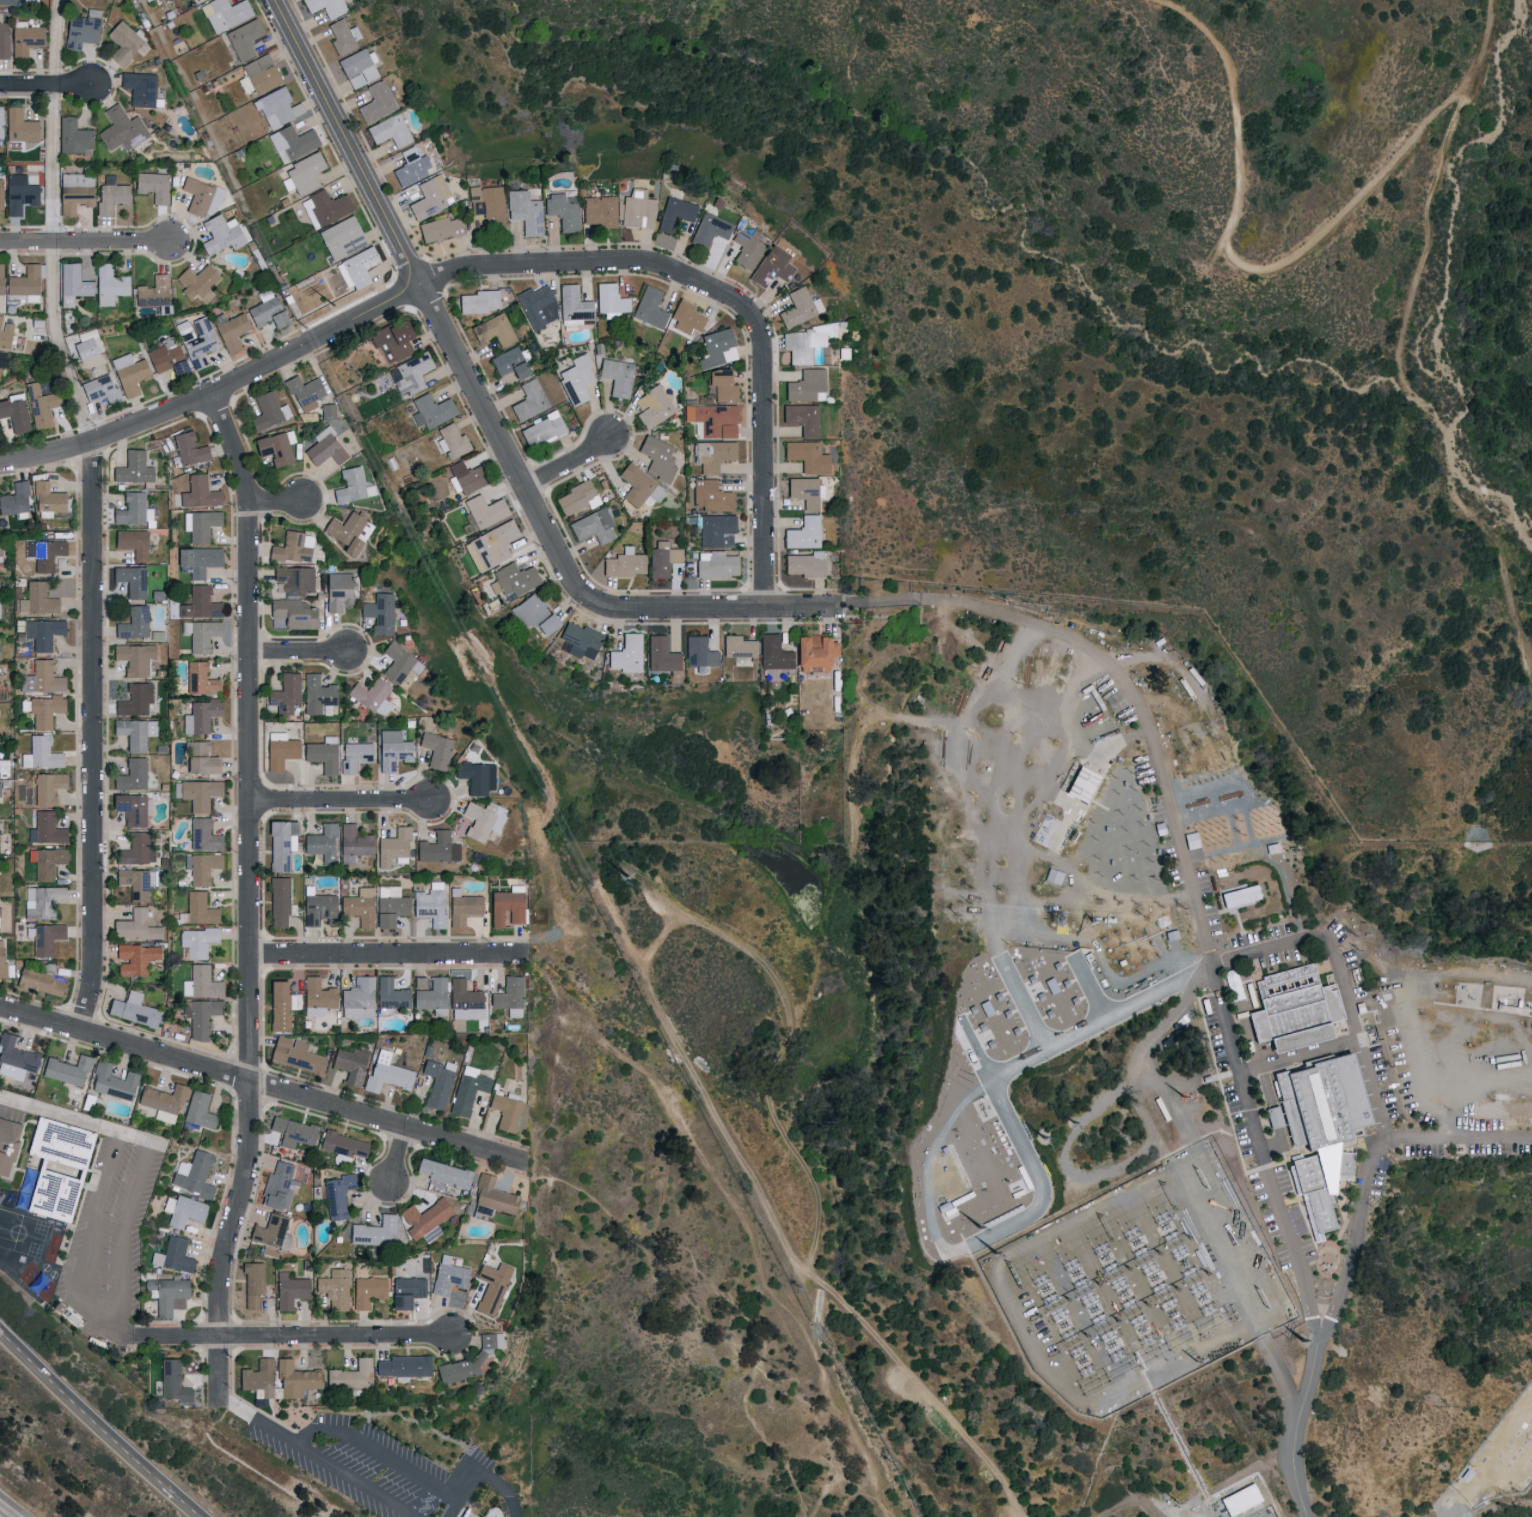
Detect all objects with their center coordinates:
building: (196, 0)
building: (7, 1)
building: (226, 14)
building: (81, 29)
building: (342, 36)
building: (243, 38)
building: (3, 39)
building: (25, 39)
building: (124, 40)
building: (357, 67)
building: (260, 73)
road: (44, 82)
building: (139, 88)
building: (376, 102)
building: (277, 107)
road: (1461, 121)
building: (0, 123)
building: (18, 127)
building: (121, 129)
building: (389, 130)
building: (73, 137)
building: (291, 142)
building: (410, 166)
building: (303, 173)
building: (152, 186)
building: (75, 191)
building: (19, 192)
building: (0, 194)
building: (111, 194)
building: (200, 197)
building: (429, 197)
building: (487, 204)
building: (328, 206)
building: (638, 209)
building: (562, 210)
building: (599, 210)
building: (524, 211)
building: (675, 213)
road: (54, 221)
building: (438, 229)
building: (710, 230)
building: (220, 234)
building: (342, 237)
road: (83, 240)
building: (747, 249)
road: (510, 262)
building: (357, 267)
building: (772, 267)
road: (1248, 267)
building: (195, 281)
building: (1, 282)
building: (25, 283)
building: (72, 284)
building: (108, 284)
building: (152, 292)
building: (610, 299)
building: (478, 301)
power tower: (338, 305)
building: (538, 306)
building: (574, 306)
building: (649, 307)
building: (799, 307)
building: (266, 311)
building: (686, 316)
road: (436, 317)
building: (231, 330)
building: (496, 330)
building: (5, 334)
building: (392, 340)
building: (200, 341)
building: (804, 342)
building: (84, 349)
building: (167, 357)
building: (509, 363)
building: (0, 369)
building: (130, 373)
building: (411, 373)
building: (617, 376)
building: (576, 379)
building: (722, 385)
building: (806, 386)
building: (101, 389)
building: (304, 392)
building: (529, 400)
building: (42, 405)
building: (653, 406)
building: (431, 410)
building: (268, 411)
building: (16, 414)
building: (802, 418)
building: (714, 420)
building: (542, 429)
building: (451, 441)
building: (276, 447)
building: (325, 447)
building: (188, 448)
building: (714, 455)
building: (806, 456)
building: (657, 457)
road: (570, 465)
building: (134, 469)
building: (464, 478)
building: (352, 486)
building: (640, 486)
building: (805, 491)
building: (199, 492)
building: (710, 496)
building: (576, 498)
building: (15, 499)
road: (275, 504)
building: (133, 510)
building: (484, 511)
building: (200, 525)
building: (592, 526)
building: (349, 531)
building: (717, 531)
building: (803, 533)
building: (132, 543)
building: (491, 545)
building: (292, 548)
building: (0, 552)
building: (47, 554)
building: (662, 559)
building: (199, 560)
building: (624, 563)
building: (805, 564)
building: (715, 565)
building: (293, 579)
building: (131, 580)
building: (513, 580)
building: (337, 591)
building: (36, 599)
building: (200, 603)
road: (730, 611)
building: (378, 612)
building: (293, 613)
building: (536, 615)
building: (133, 623)
building: (42, 633)
building: (201, 634)
building: (579, 639)
building: (738, 647)
building: (698, 652)
building: (774, 652)
building: (813, 652)
road: (296, 654)
building: (626, 654)
building: (661, 654)
building: (133, 658)
building: (398, 664)
building: (41, 678)
road: (1124, 678)
building: (200, 679)
building: (285, 694)
building: (317, 694)
building: (371, 696)
building: (134, 699)
building: (44, 711)
building: (200, 716)
building: (134, 732)
road: (92, 734)
building: (279, 750)
building: (392, 750)
building: (436, 750)
building: (40, 754)
building: (321, 754)
building: (354, 756)
building: (200, 759)
building: (131, 775)
building: (477, 777)
building: (1080, 784)
building: (47, 788)
building: (200, 793)
building: (0, 796)
road: (341, 803)
building: (136, 811)
building: (0, 827)
building: (46, 829)
building: (203, 835)
building: (321, 843)
building: (353, 843)
building: (281, 844)
building: (393, 847)
building: (437, 848)
building: (136, 849)
building: (46, 862)
building: (202, 867)
power tower: (636, 877)
building: (136, 883)
building: (1238, 894)
road: (250, 896)
building: (278, 901)
building: (41, 902)
building: (430, 905)
building: (358, 906)
building: (389, 906)
building: (462, 907)
building: (506, 907)
building: (198, 909)
building: (319, 909)
power tower: (1058, 918)
road: (692, 923)
building: (135, 927)
building: (45, 939)
building: (196, 941)
road: (1287, 944)
road: (388, 956)
building: (135, 959)
building: (5, 967)
building: (204, 982)
building: (39, 983)
building: (390, 993)
building: (509, 995)
building: (317, 996)
building: (432, 996)
building: (357, 997)
building: (464, 1000)
building: (280, 1005)
building: (1291, 1007)
building: (132, 1010)
building: (202, 1016)
road: (1456, 1020)
building: (294, 1054)
building: (15, 1058)
building: (350, 1063)
building: (66, 1069)
building: (386, 1072)
building: (113, 1080)
building: (438, 1082)
road: (258, 1083)
building: (468, 1089)
building: (159, 1102)
building: (198, 1109)
building: (505, 1110)
building: (1272, 1116)
road: (76, 1119)
building: (1319, 1130)
building: (292, 1131)
road: (1460, 1141)
building: (343, 1144)
building: (8, 1145)
road: (398, 1157)
building: (55, 1166)
building: (442, 1172)
building: (194, 1174)
building: (278, 1186)
building: (336, 1195)
building: (493, 1195)
building: (182, 1209)
road: (740, 1215)
road: (122, 1231)
building: (271, 1231)
building: (374, 1231)
power tower: (979, 1231)
road: (89, 1239)
building: (173, 1255)
parking lot: (110, 1257)
power tower: (995, 1258)
building: (448, 1275)
building: (252, 1284)
building: (492, 1287)
building: (334, 1288)
building: (289, 1290)
building: (367, 1291)
building: (407, 1291)
building: (166, 1293)
power substation: (1120, 1294)
road: (129, 1333)
road: (297, 1338)
building: (468, 1359)
building: (403, 1365)
building: (349, 1375)
building: (257, 1378)
building: (294, 1378)
building: (172, 1381)
road: (923, 1389)
road: (88, 1410)
road: (1303, 1425)
road: (383, 1455)
road: (310, 1459)
parking lot: (387, 1470)
road: (1491, 1482)
road: (465, 1484)
road: (502, 1486)
road: (186, 1505)
power tower: (1183, 1507)
power substation: (1251, 1507)
road: (1132, 1511)

